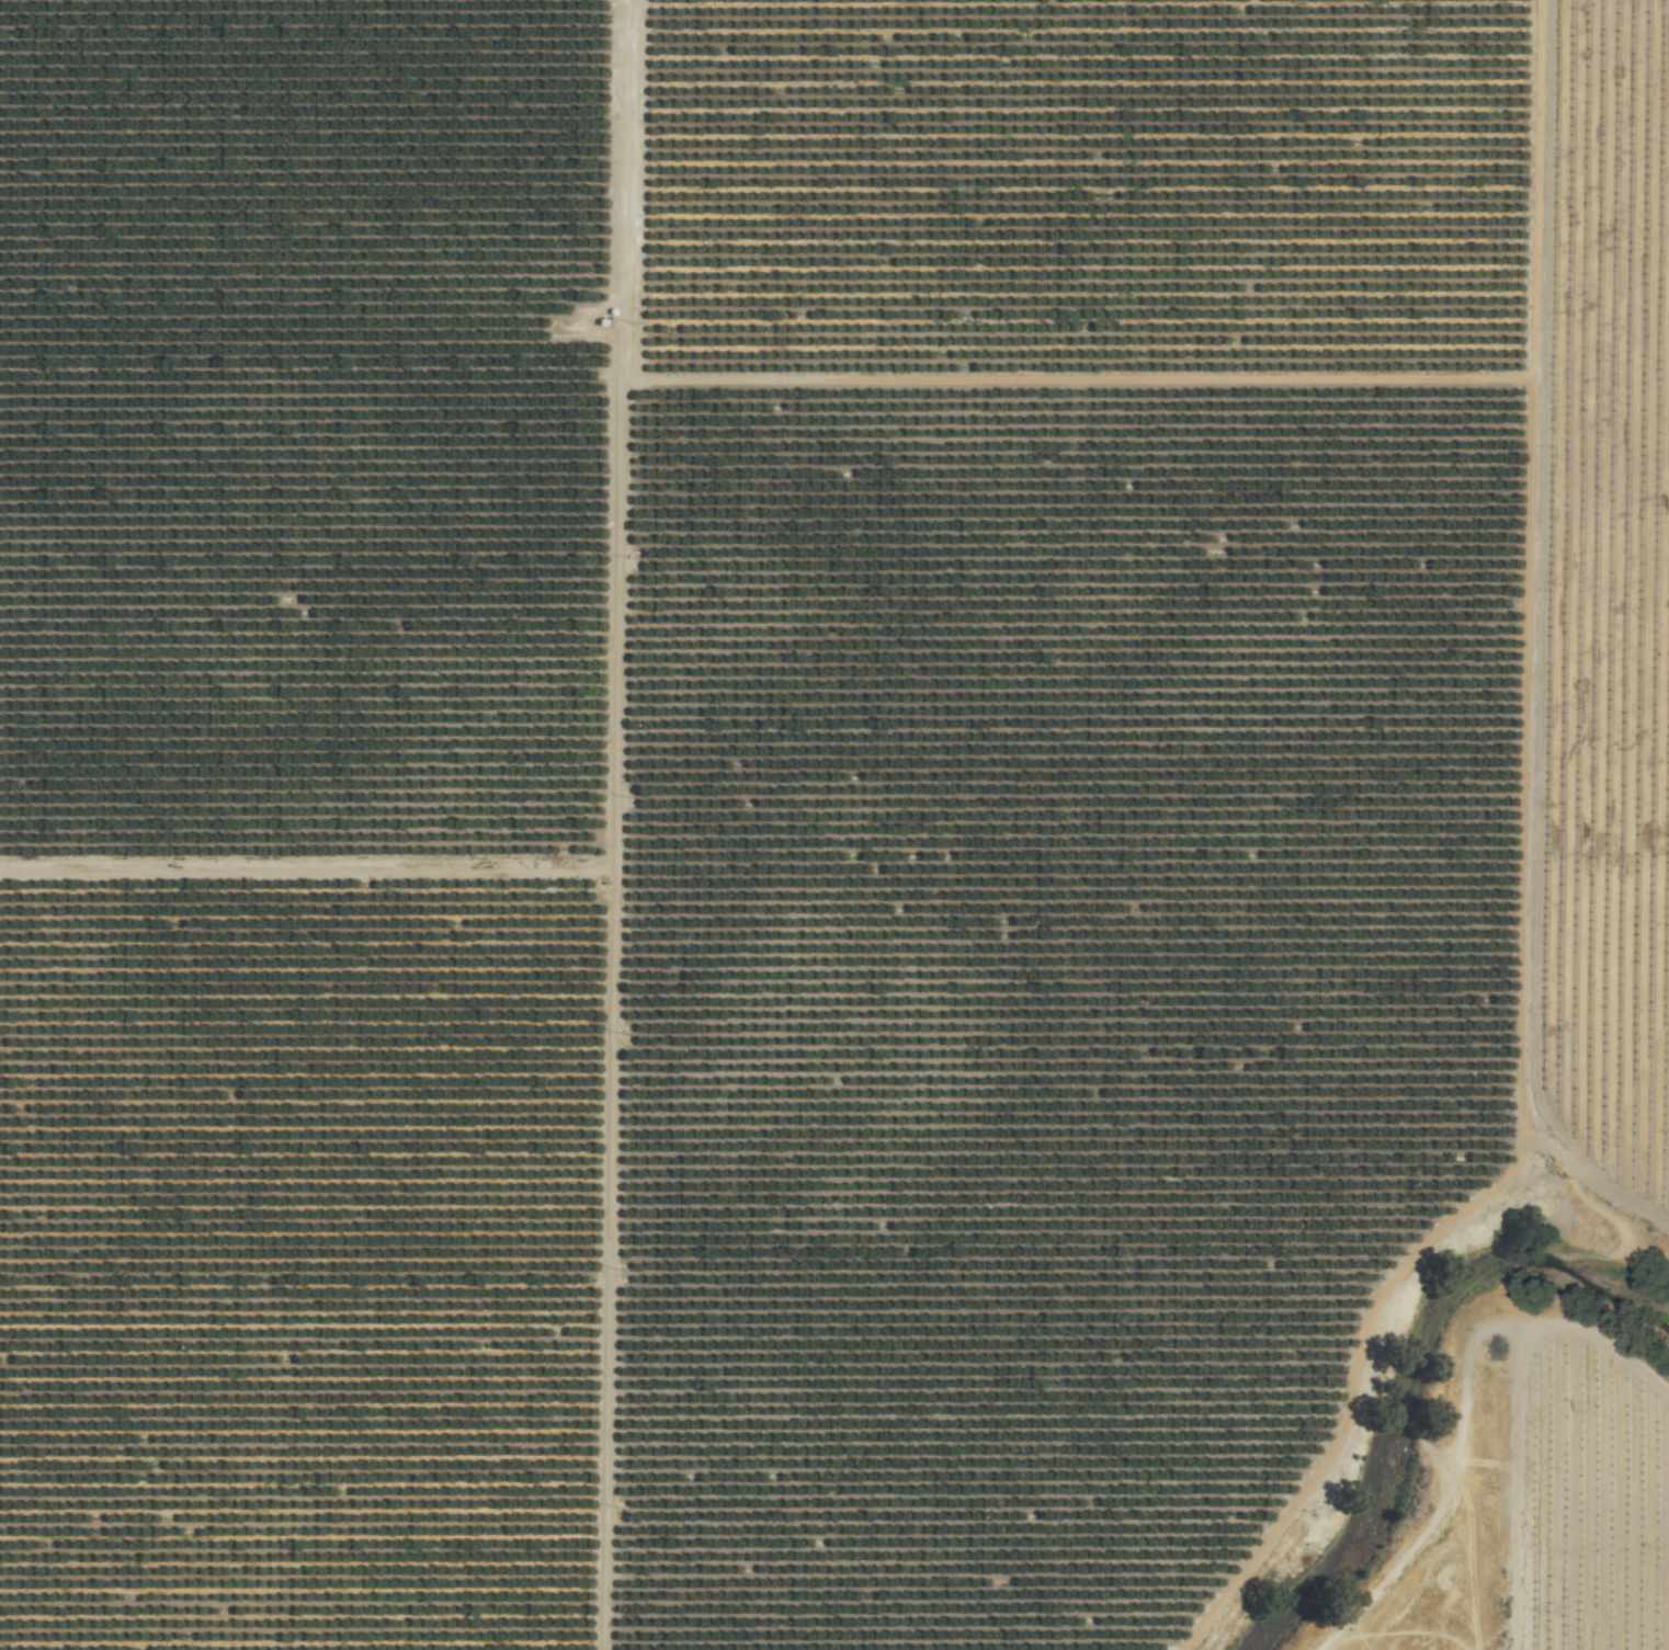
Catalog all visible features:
road: (1366, 1304)

